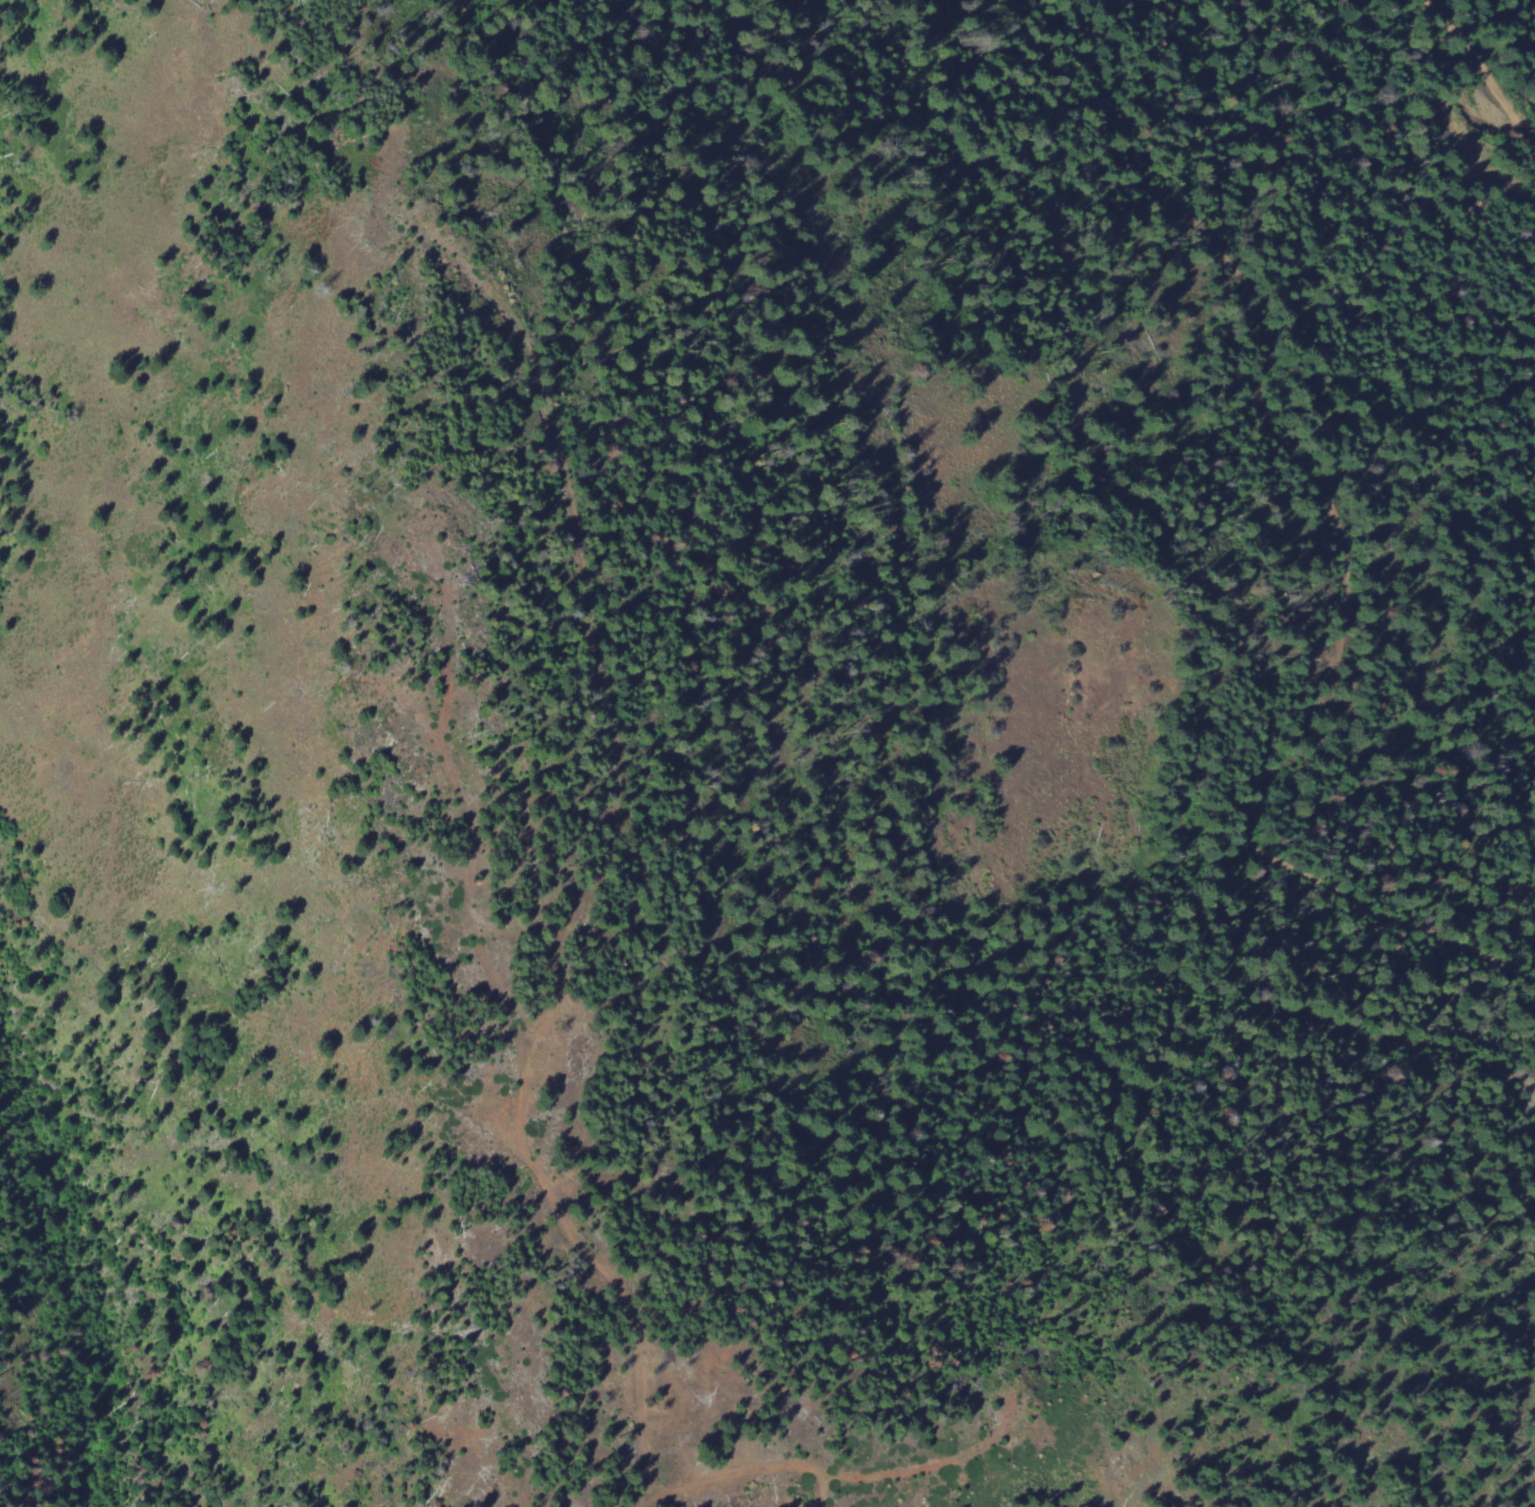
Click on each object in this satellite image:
road: (1484, 86)

